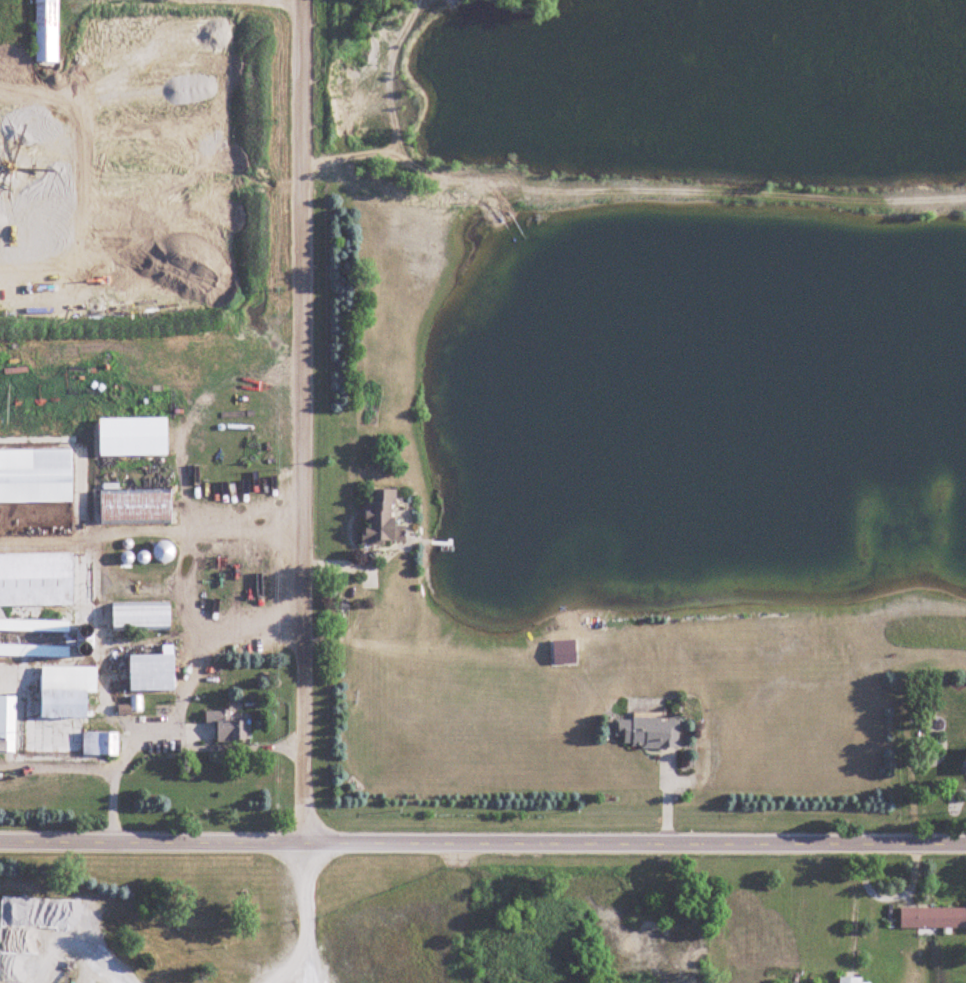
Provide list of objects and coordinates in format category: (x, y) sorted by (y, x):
building: (47, 30)
road: (303, 420)
building: (134, 436)
building: (36, 476)
building: (136, 507)
building: (382, 519)
road: (190, 525)
road: (94, 531)
building: (165, 551)
building: (36, 578)
building: (142, 615)
building: (35, 637)
road: (193, 665)
building: (153, 672)
building: (67, 691)
building: (8, 724)
building: (226, 725)
building: (648, 733)
building: (100, 743)
road: (91, 767)
road: (482, 840)
building: (933, 918)
road: (303, 925)
road: (308, 967)
building: (852, 980)

